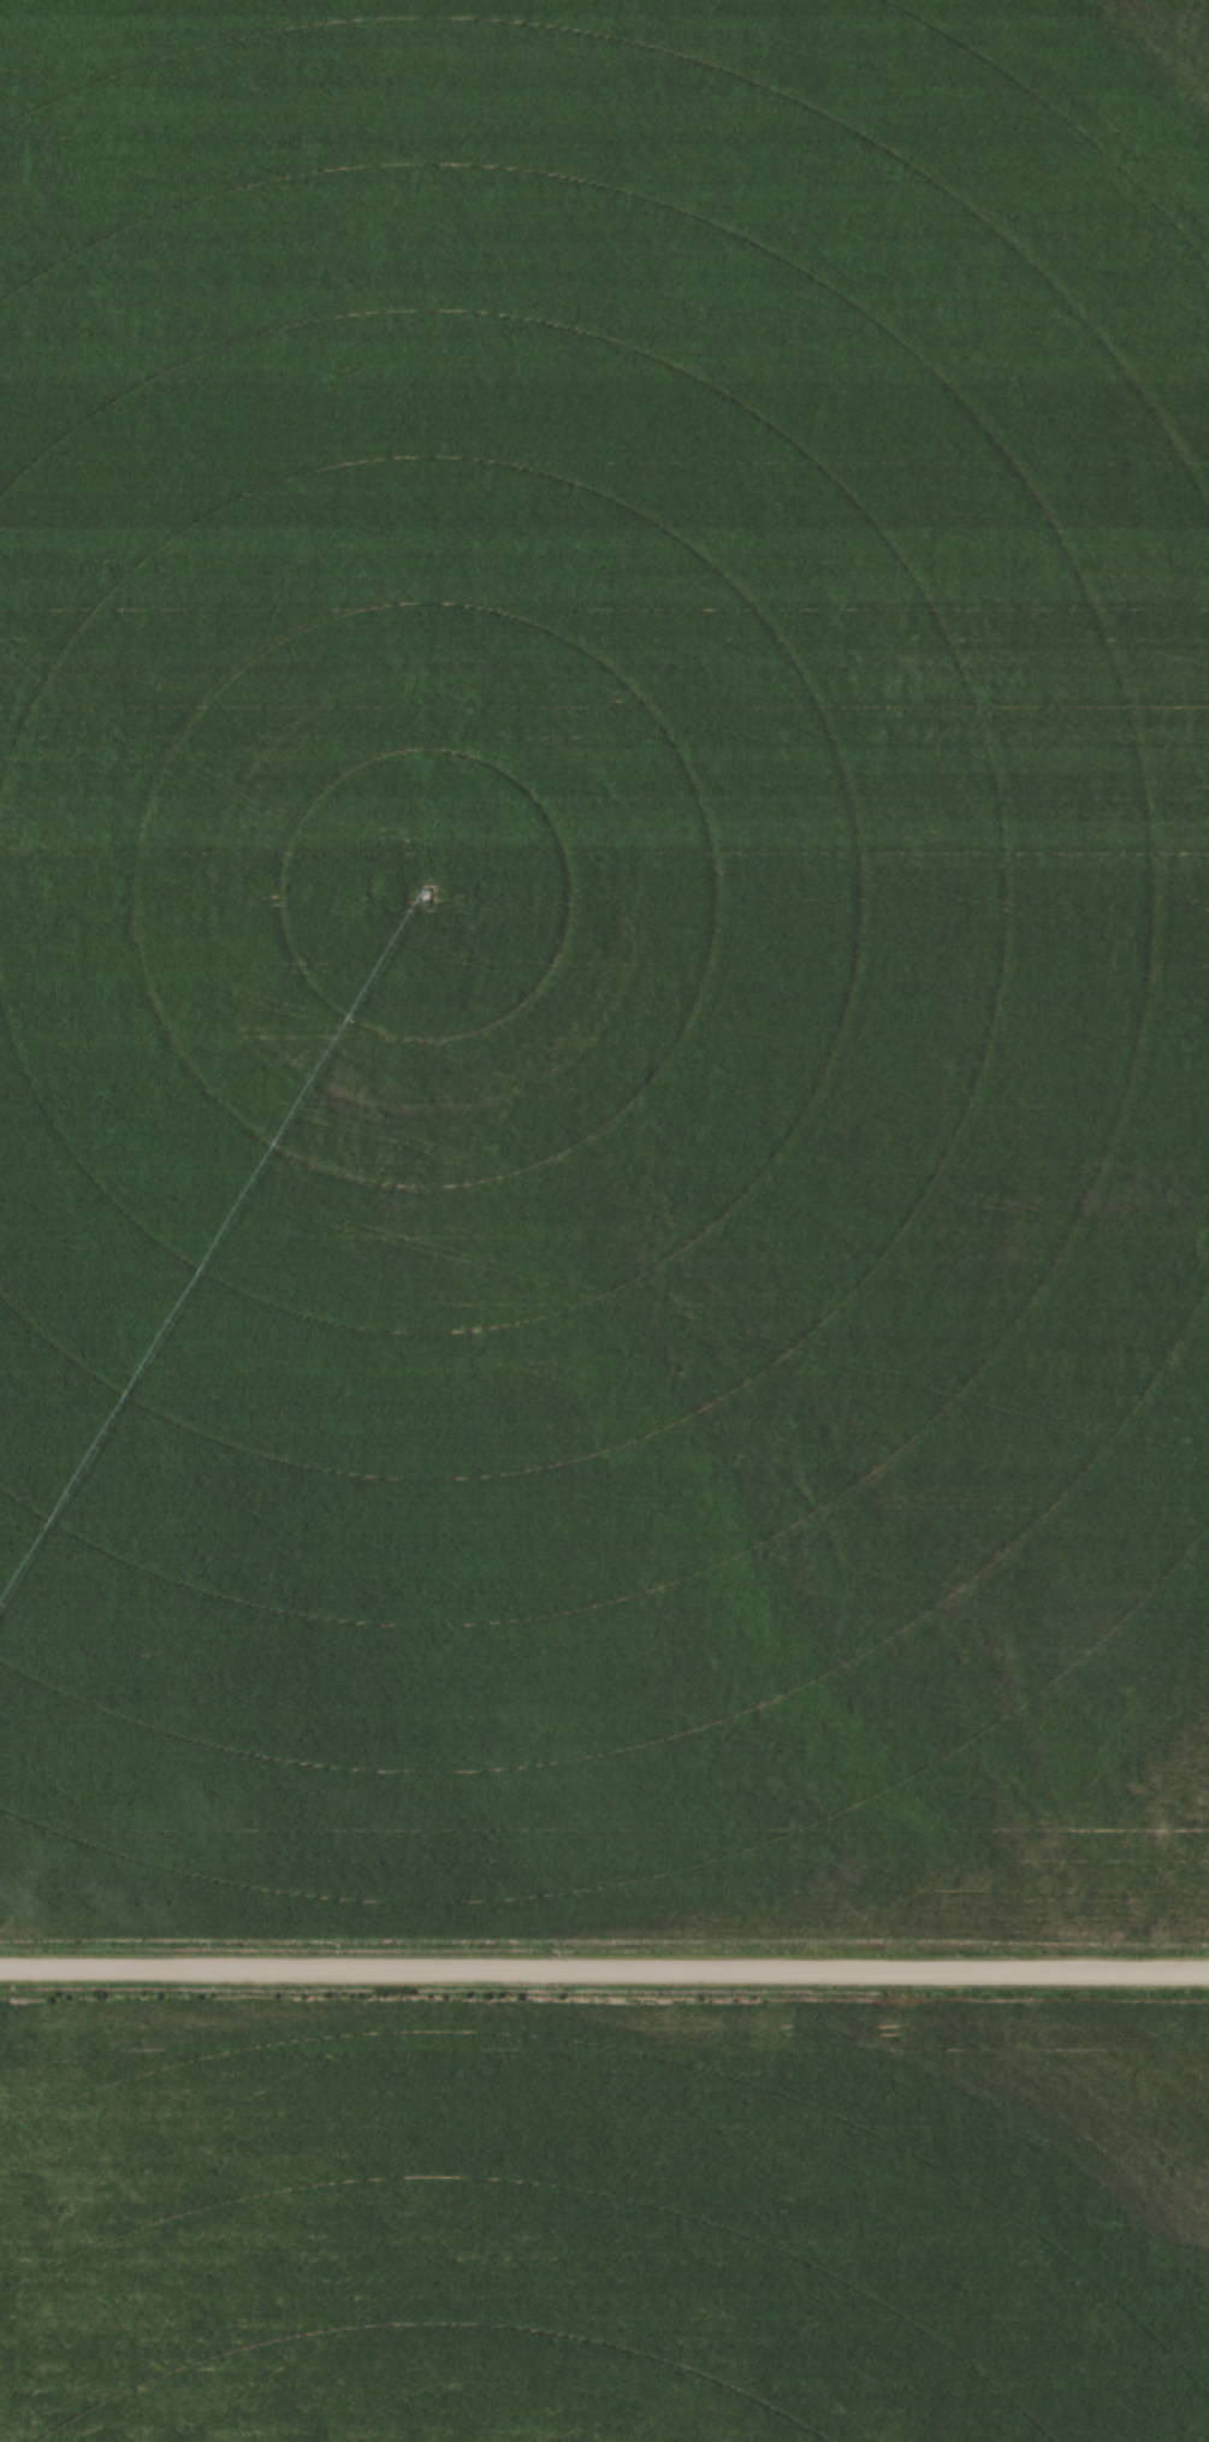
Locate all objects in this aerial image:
crop: (604, 971)
road: (604, 1969)
crop: (603, 2219)

